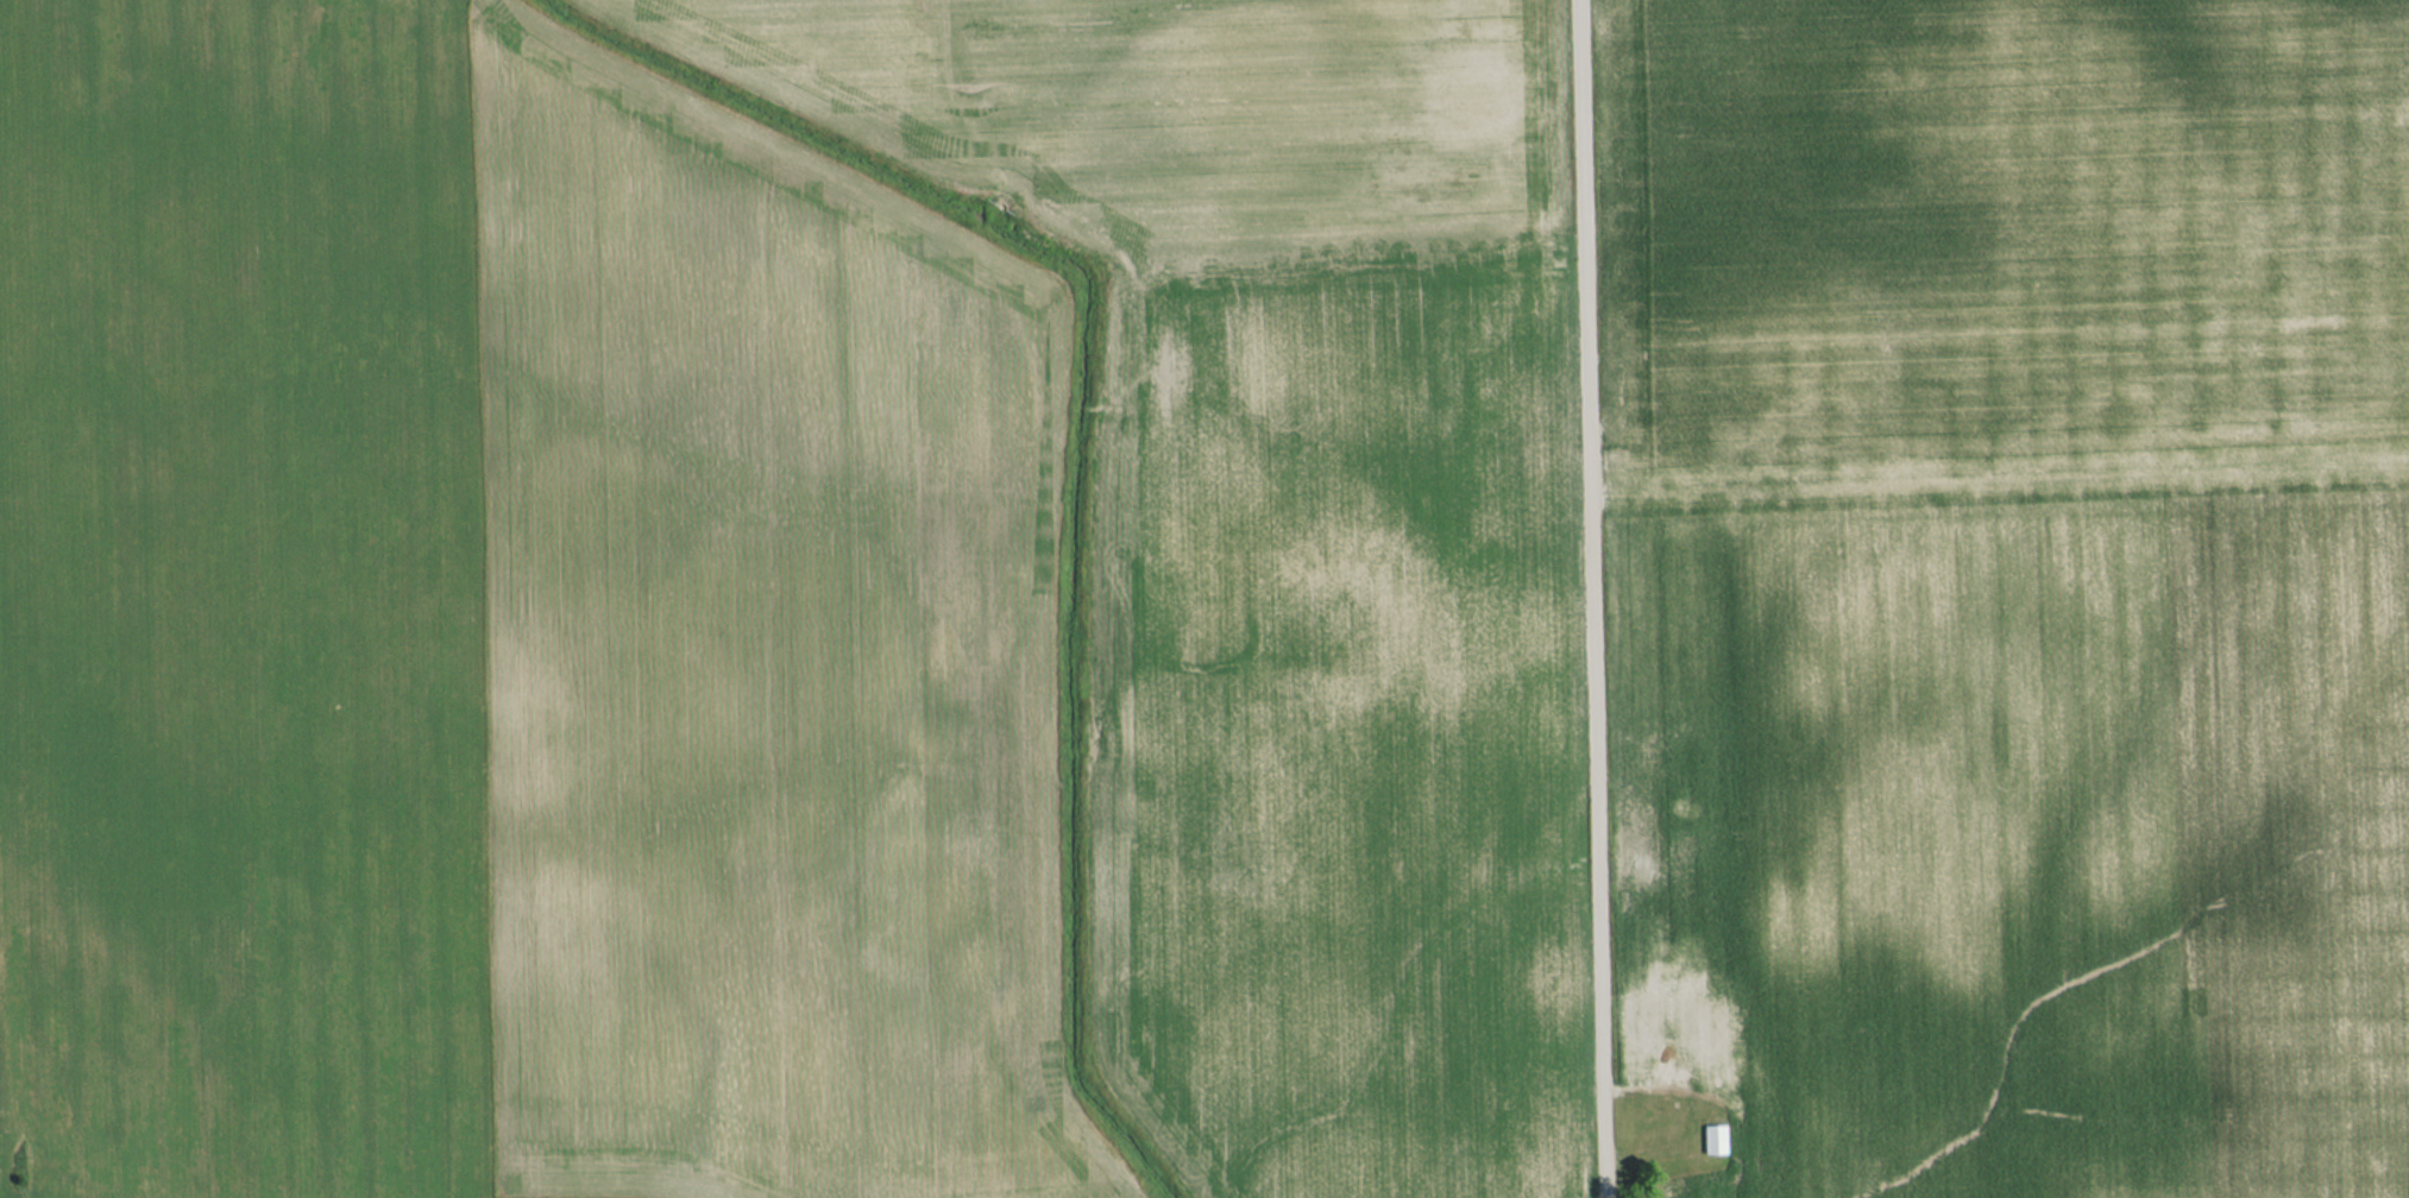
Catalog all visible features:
road: (1597, 599)
building: (1715, 1139)

